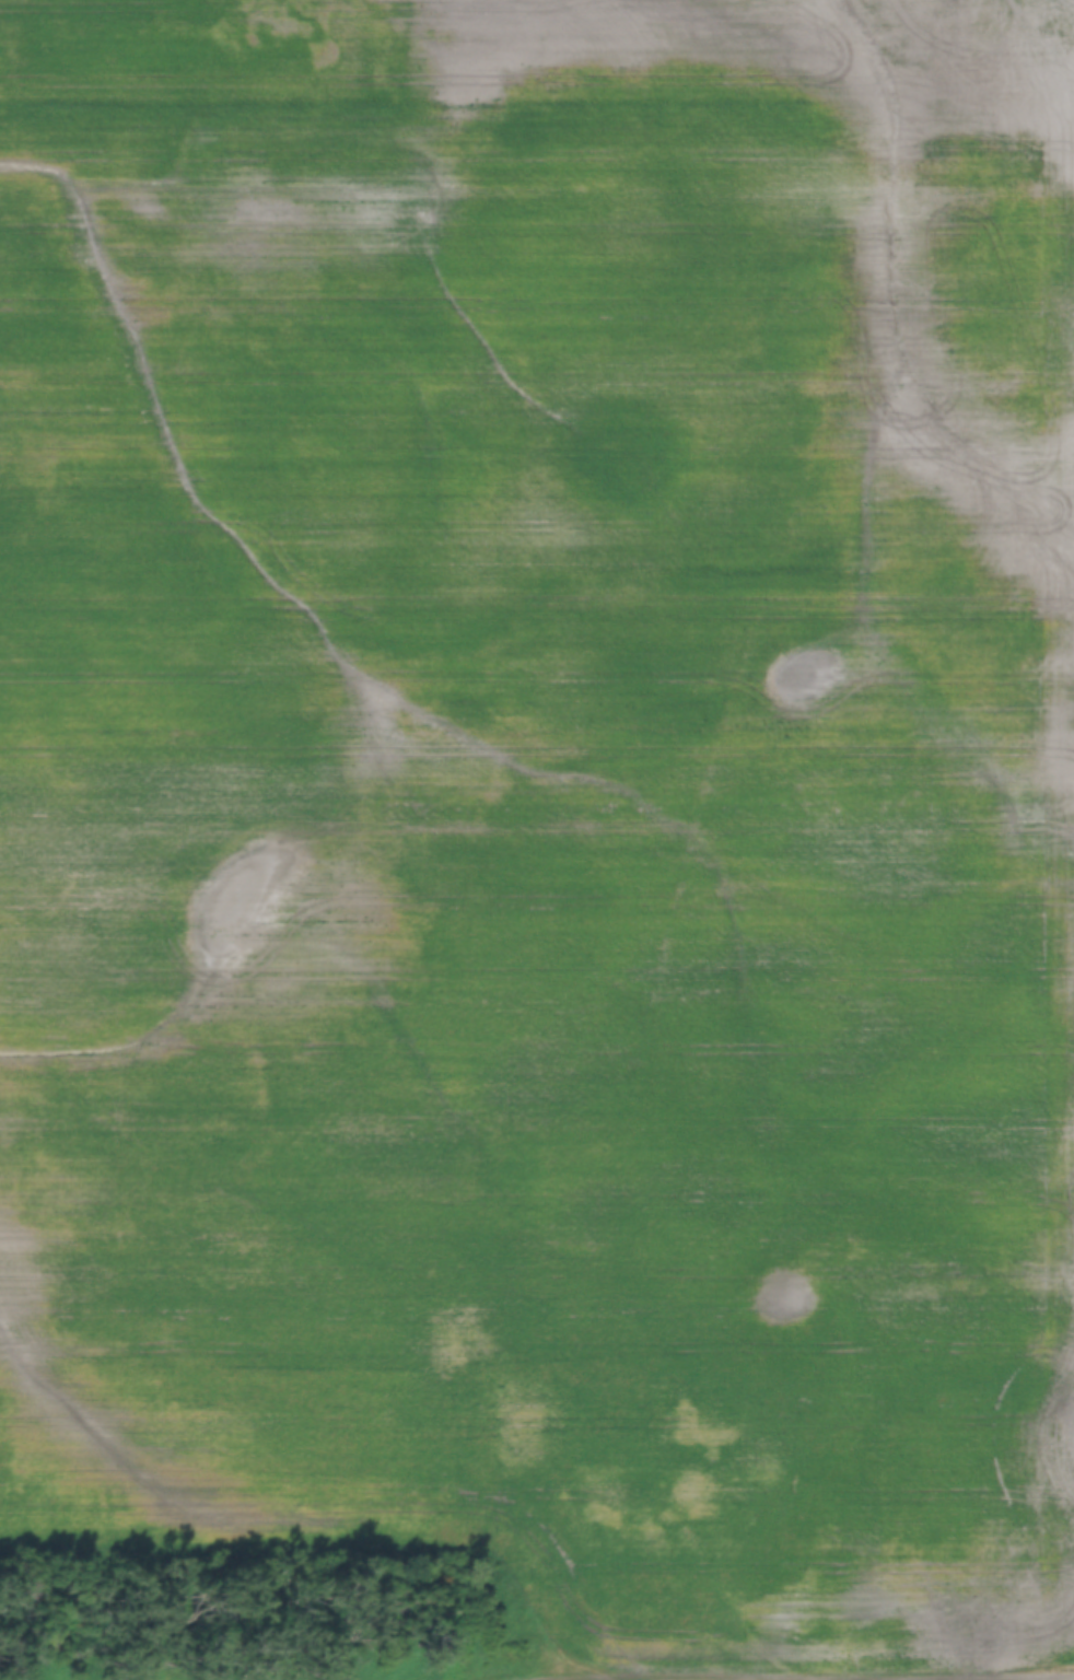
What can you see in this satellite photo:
road: (1028, 1677)

